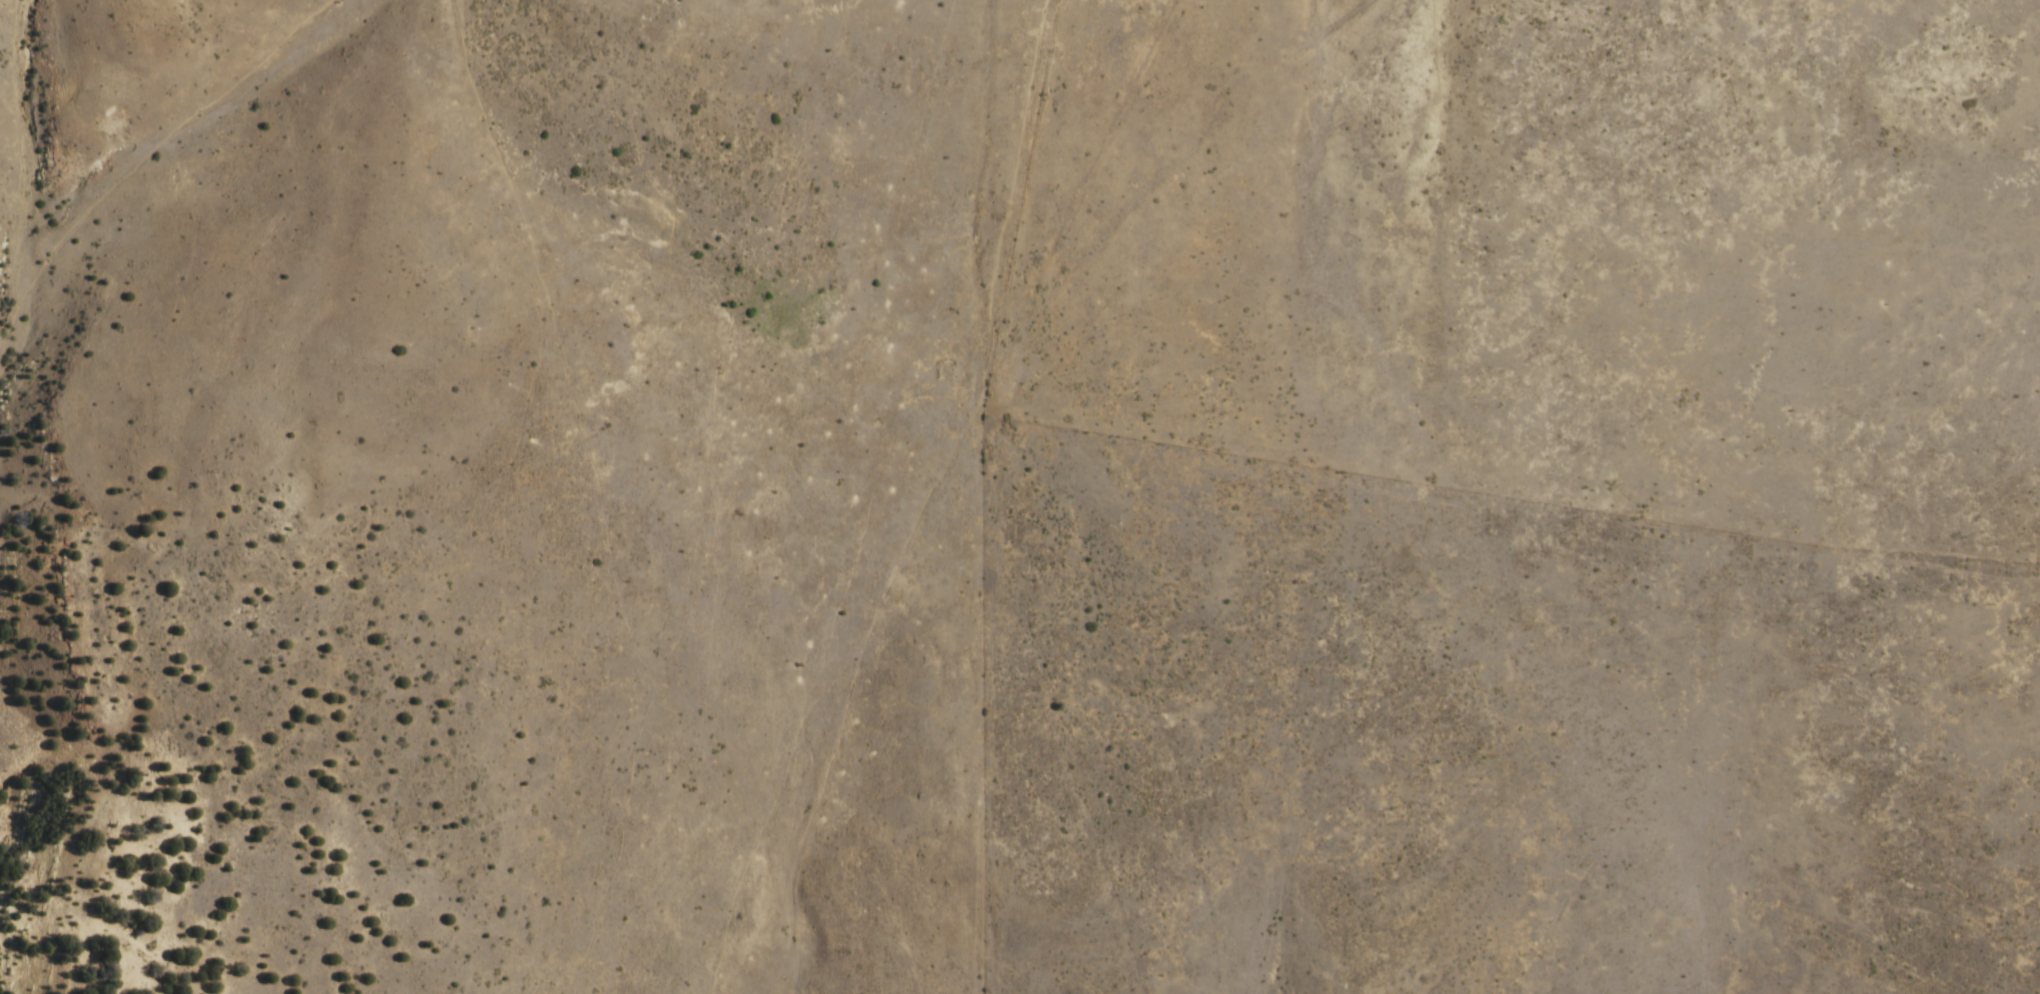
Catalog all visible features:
road: (1917, 104)

